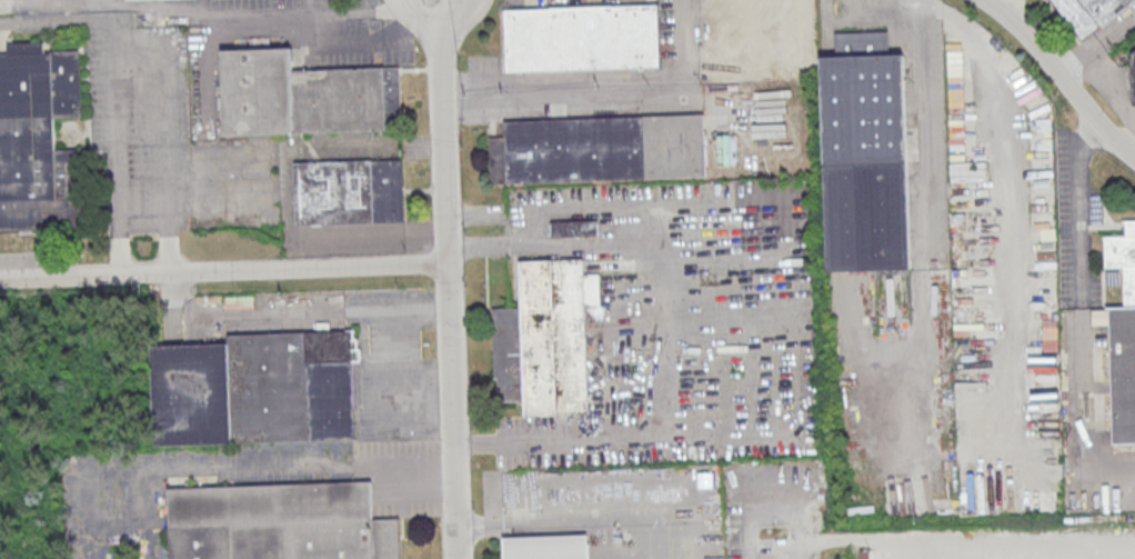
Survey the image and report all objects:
road: (94, 1)
road: (463, 1)
road: (47, 4)
road: (1005, 6)
road: (363, 8)
building: (1088, 13)
road: (318, 14)
road: (452, 18)
road: (421, 20)
road: (265, 21)
road: (56, 22)
road: (1117, 27)
building: (580, 37)
road: (1076, 56)
building: (1133, 74)
road: (1059, 79)
road: (601, 94)
building: (305, 96)
road: (922, 113)
road: (167, 129)
building: (38, 138)
building: (602, 148)
road: (118, 149)
building: (863, 153)
building: (349, 191)
road: (1077, 202)
building: (574, 228)
road: (222, 271)
road: (446, 296)
road: (282, 313)
building: (544, 338)
road: (775, 338)
building: (1122, 338)
road: (399, 353)
building: (255, 389)
road: (1082, 401)
road: (297, 462)
road: (93, 490)
road: (143, 512)
road: (556, 512)
road: (785, 517)
building: (279, 522)
road: (751, 538)
parking lot: (761, 545)
building: (546, 548)
road: (798, 549)
road: (629, 555)

